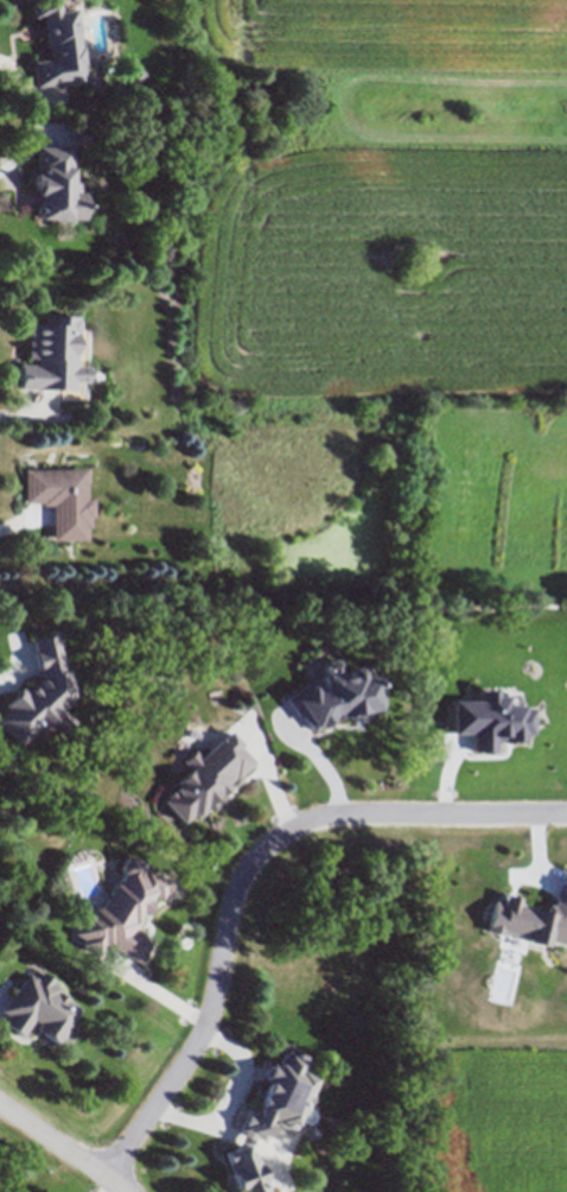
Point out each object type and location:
building: (57, 46)
building: (56, 188)
crop: (380, 199)
building: (51, 359)
park: (267, 469)
building: (56, 495)
building: (204, 774)
road: (471, 811)
building: (119, 911)
road: (219, 962)
building: (34, 1007)
building: (267, 1118)
road: (62, 1146)

